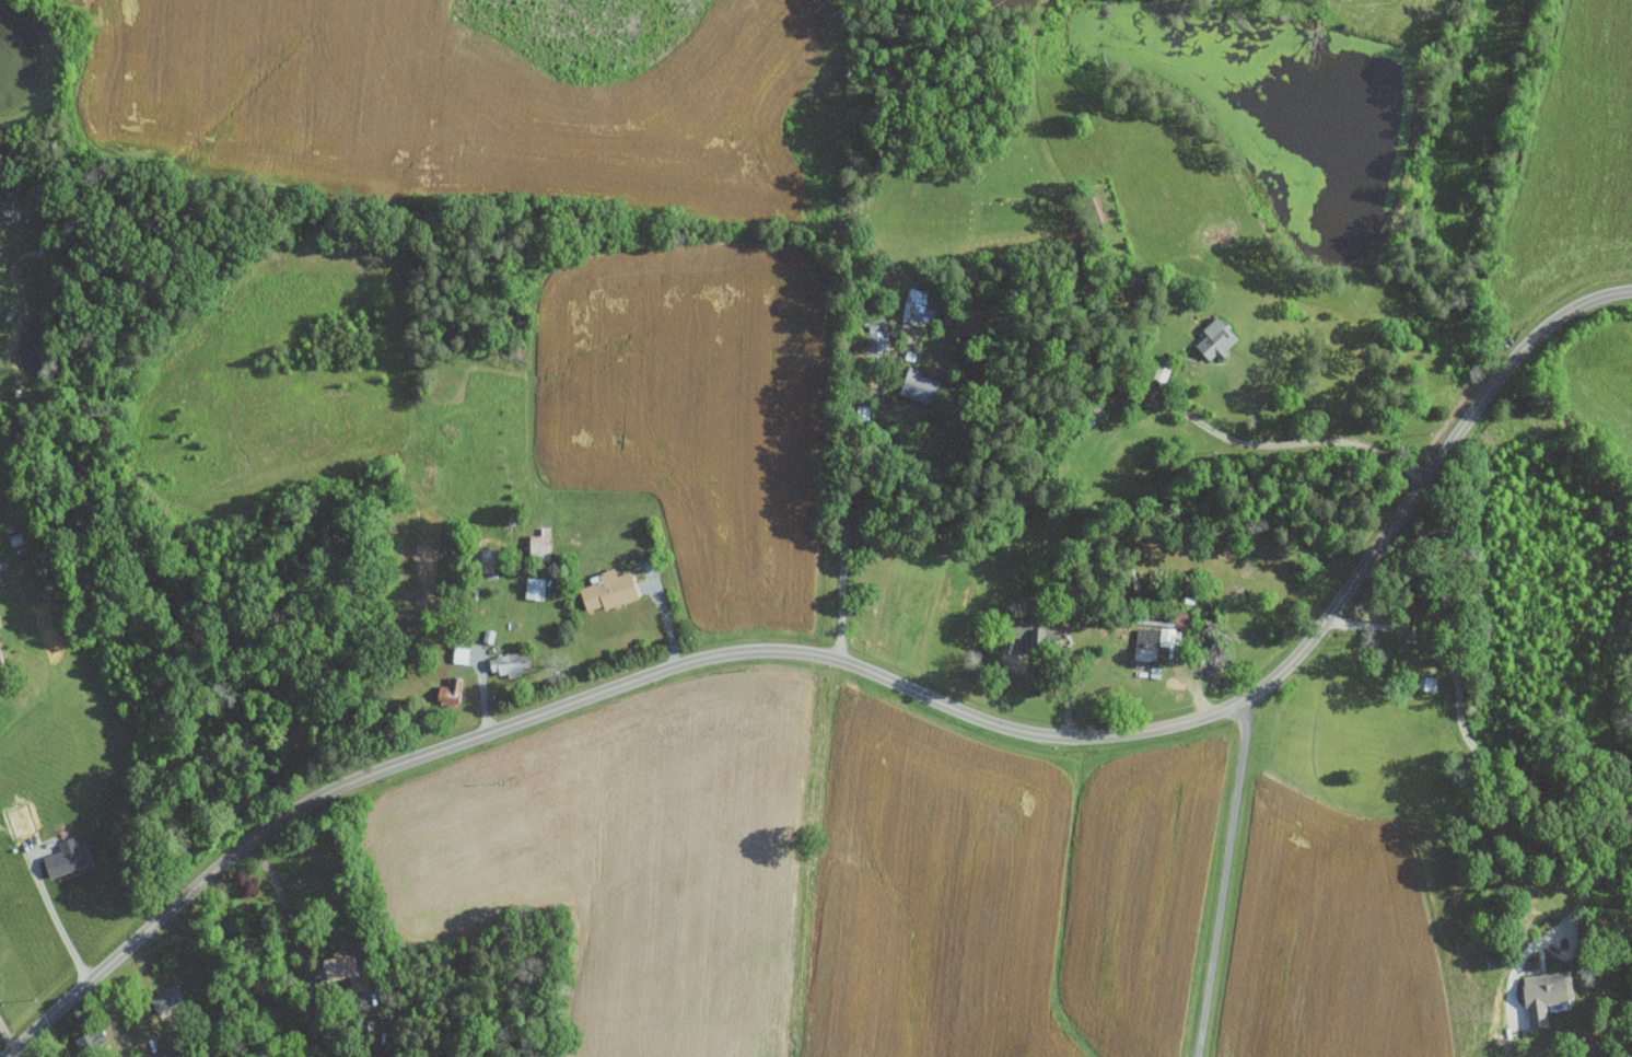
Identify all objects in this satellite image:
building: (877, 336)
building: (1220, 338)
building: (921, 385)
road: (1294, 442)
road: (843, 520)
building: (541, 544)
building: (490, 559)
building: (610, 589)
road: (665, 617)
building: (1039, 632)
building: (1, 657)
building: (509, 664)
road: (862, 667)
building: (451, 690)
road: (1495, 759)
building: (69, 859)
road: (1225, 878)
road: (290, 909)
road: (56, 919)
building: (346, 969)
building: (1548, 995)
building: (168, 998)
road: (112, 1026)

